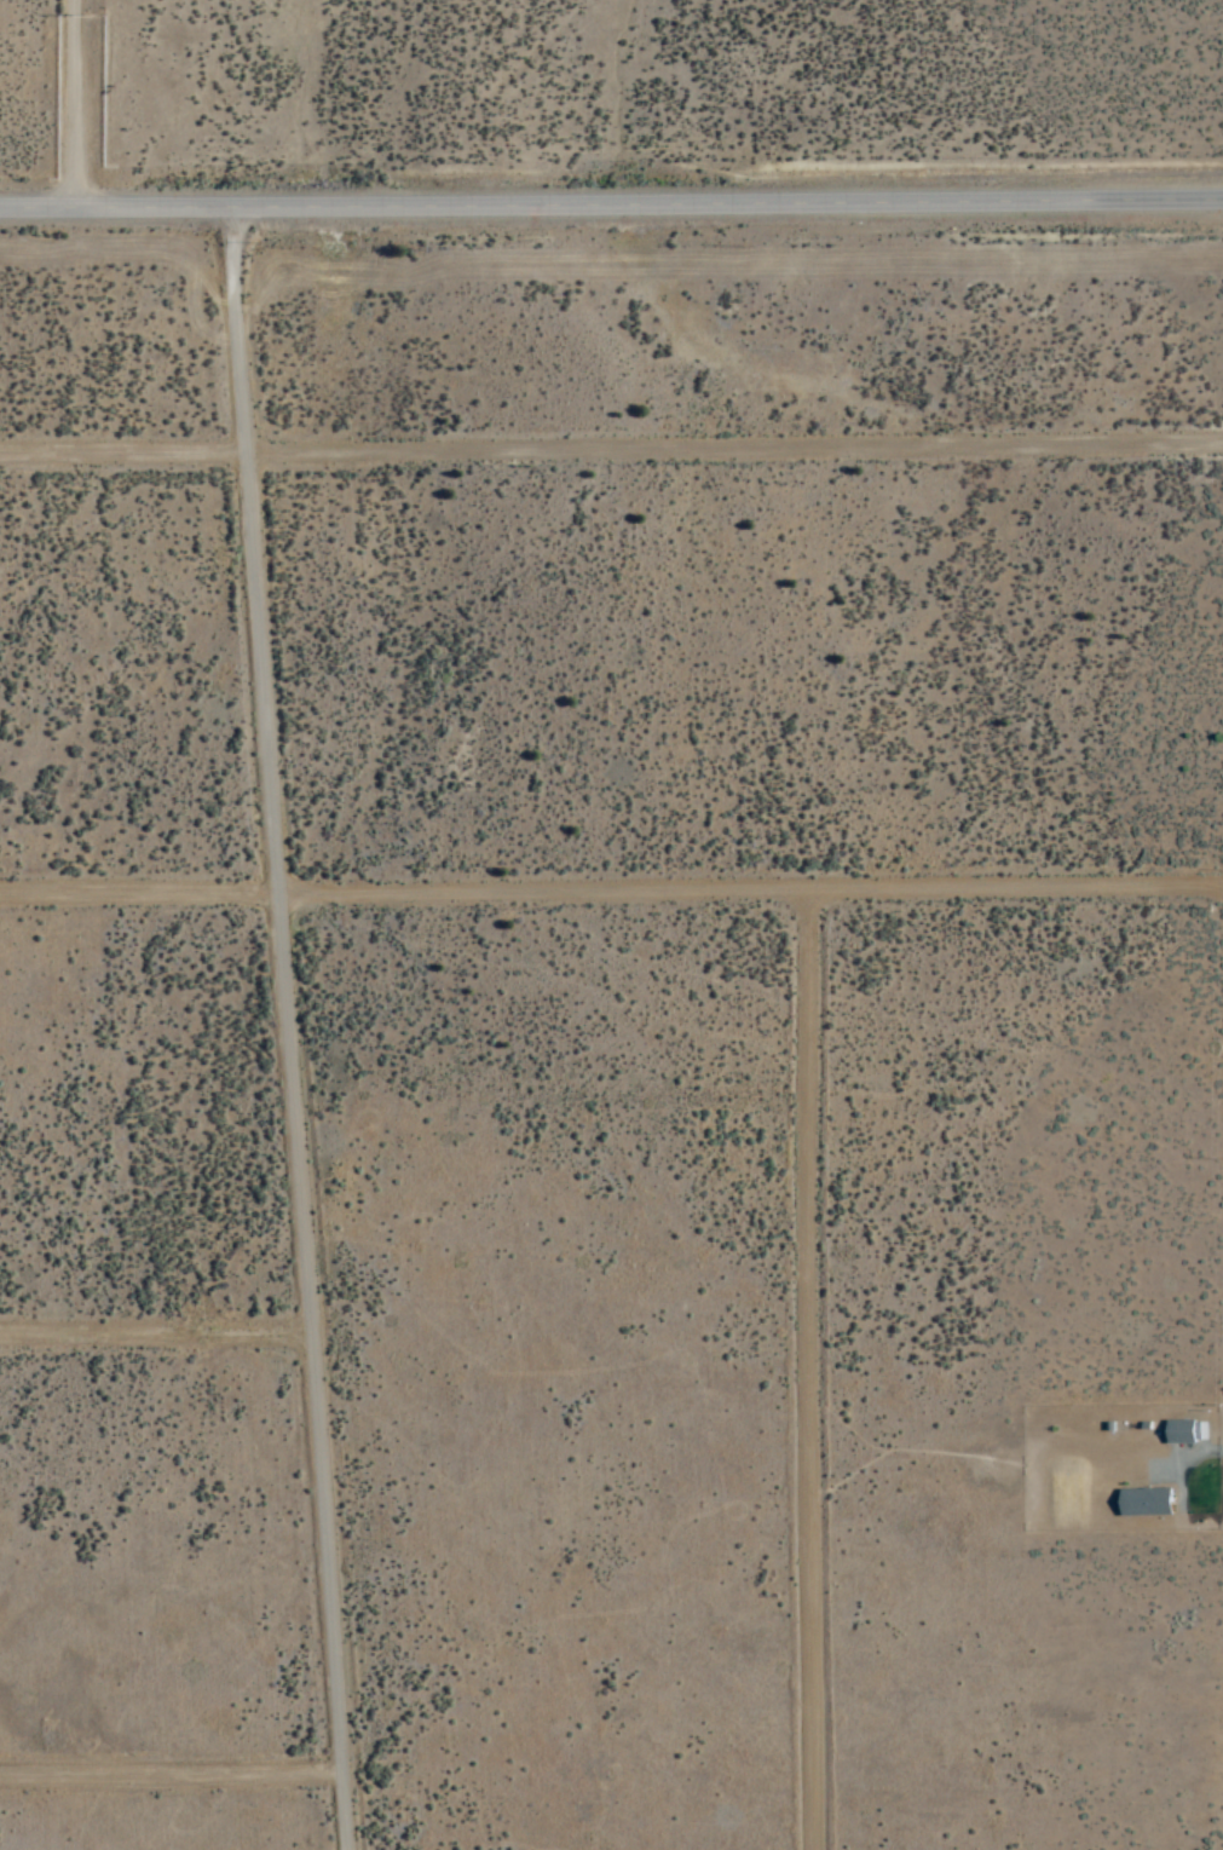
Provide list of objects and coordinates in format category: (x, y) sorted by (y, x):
road: (76, 105)
road: (611, 206)
road: (611, 451)
road: (611, 893)
road: (293, 1030)
road: (157, 1335)
road: (815, 1370)
building: (1144, 1503)
road: (174, 1781)

